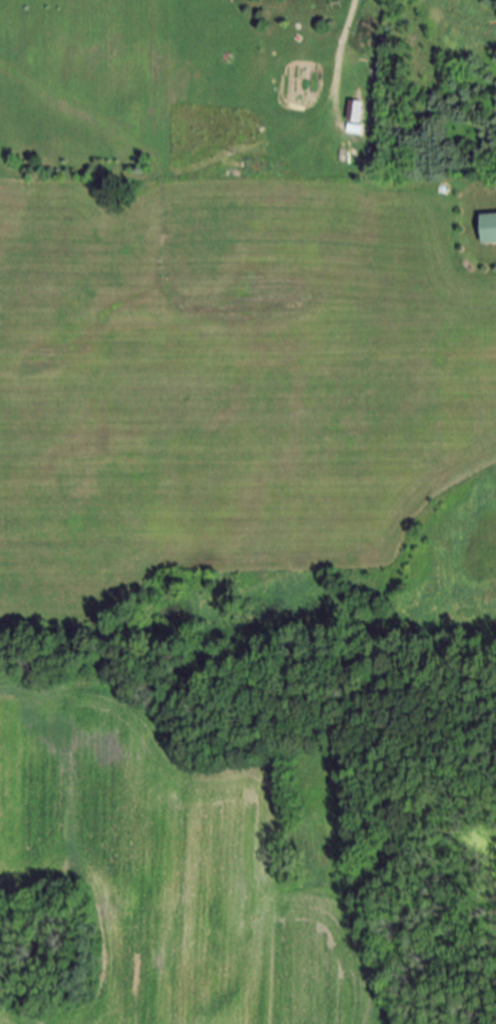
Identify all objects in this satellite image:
building: (354, 110)
building: (488, 230)
crop: (226, 379)
crop: (169, 873)

